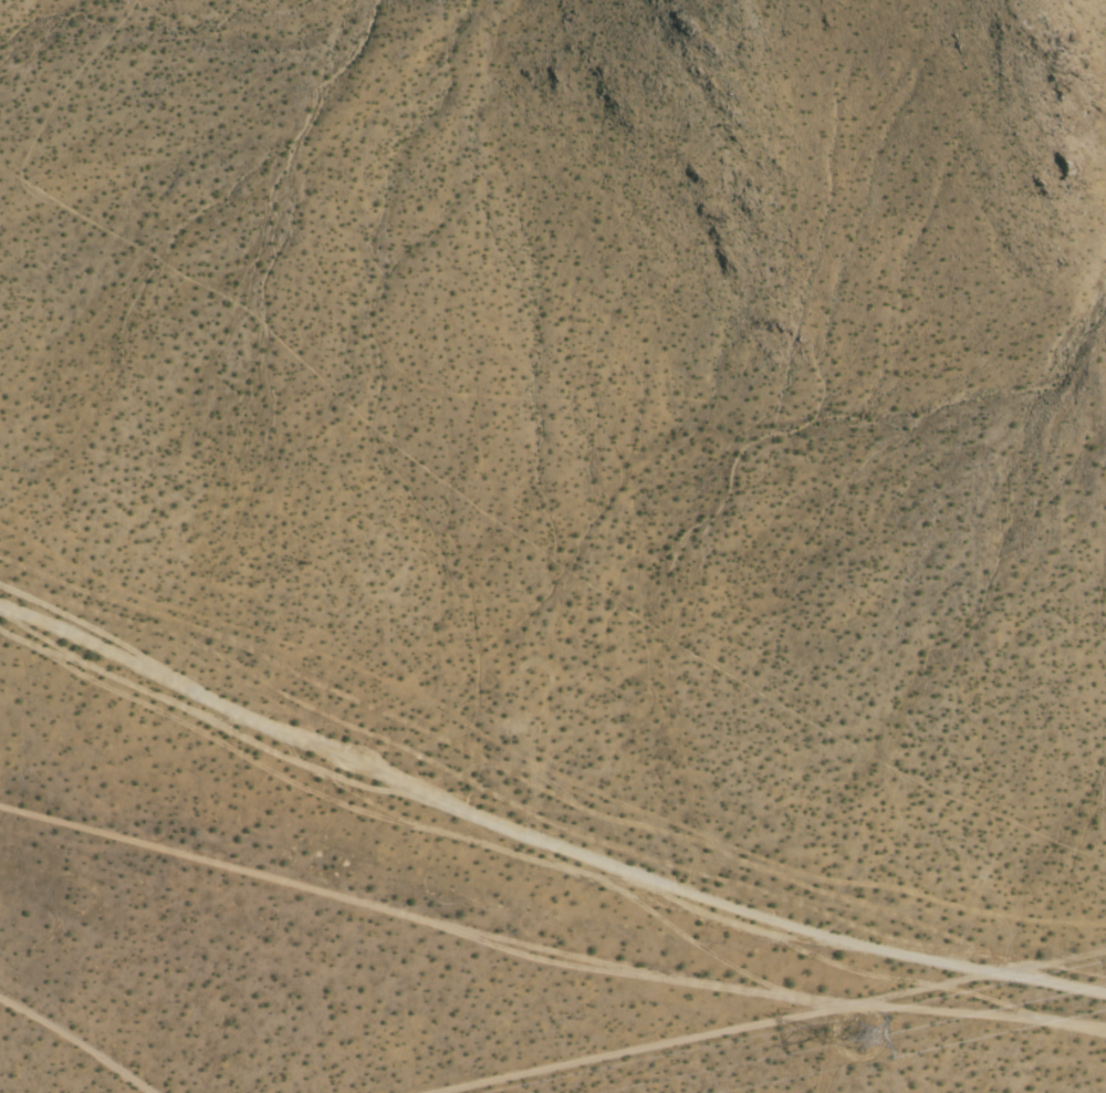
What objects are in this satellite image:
road: (539, 836)
power tower: (873, 1029)

